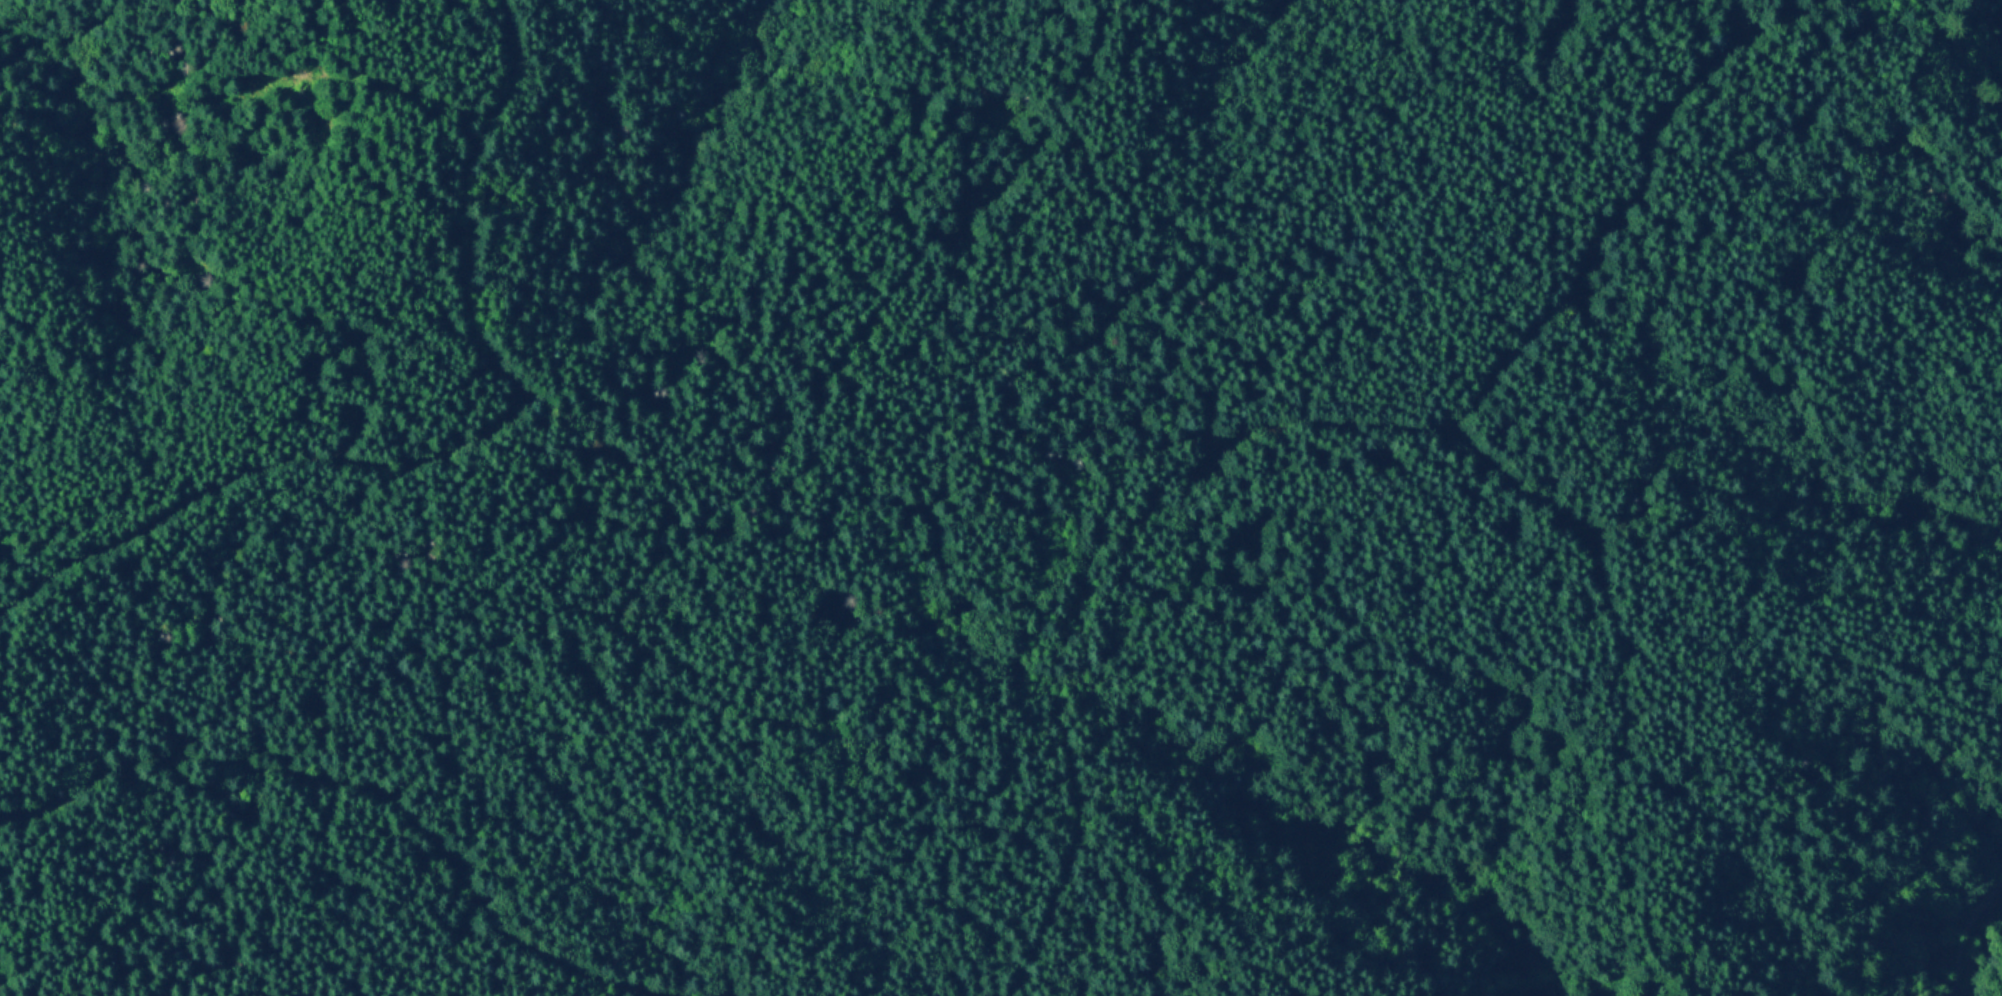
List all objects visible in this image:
road: (1295, 418)
road: (453, 435)
road: (775, 482)
road: (1597, 557)
road: (370, 784)
road: (1964, 933)

